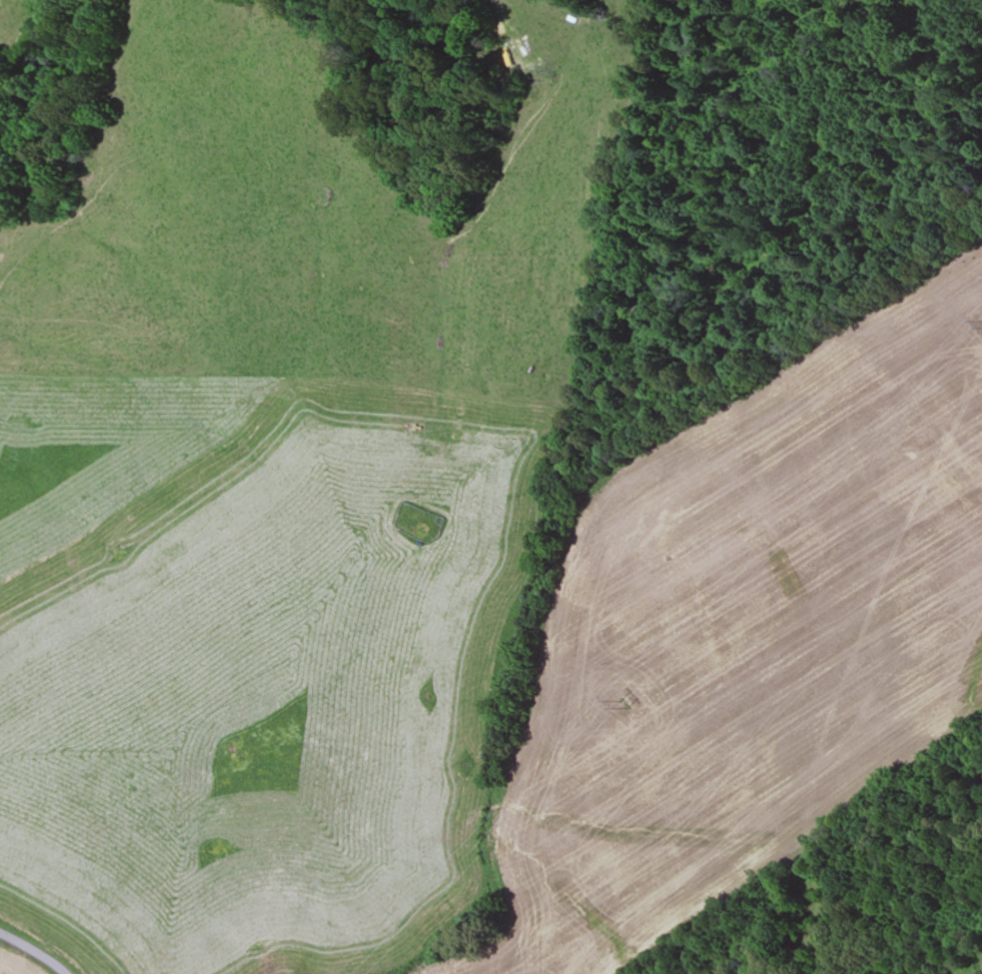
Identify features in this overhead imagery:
road: (34, 952)

